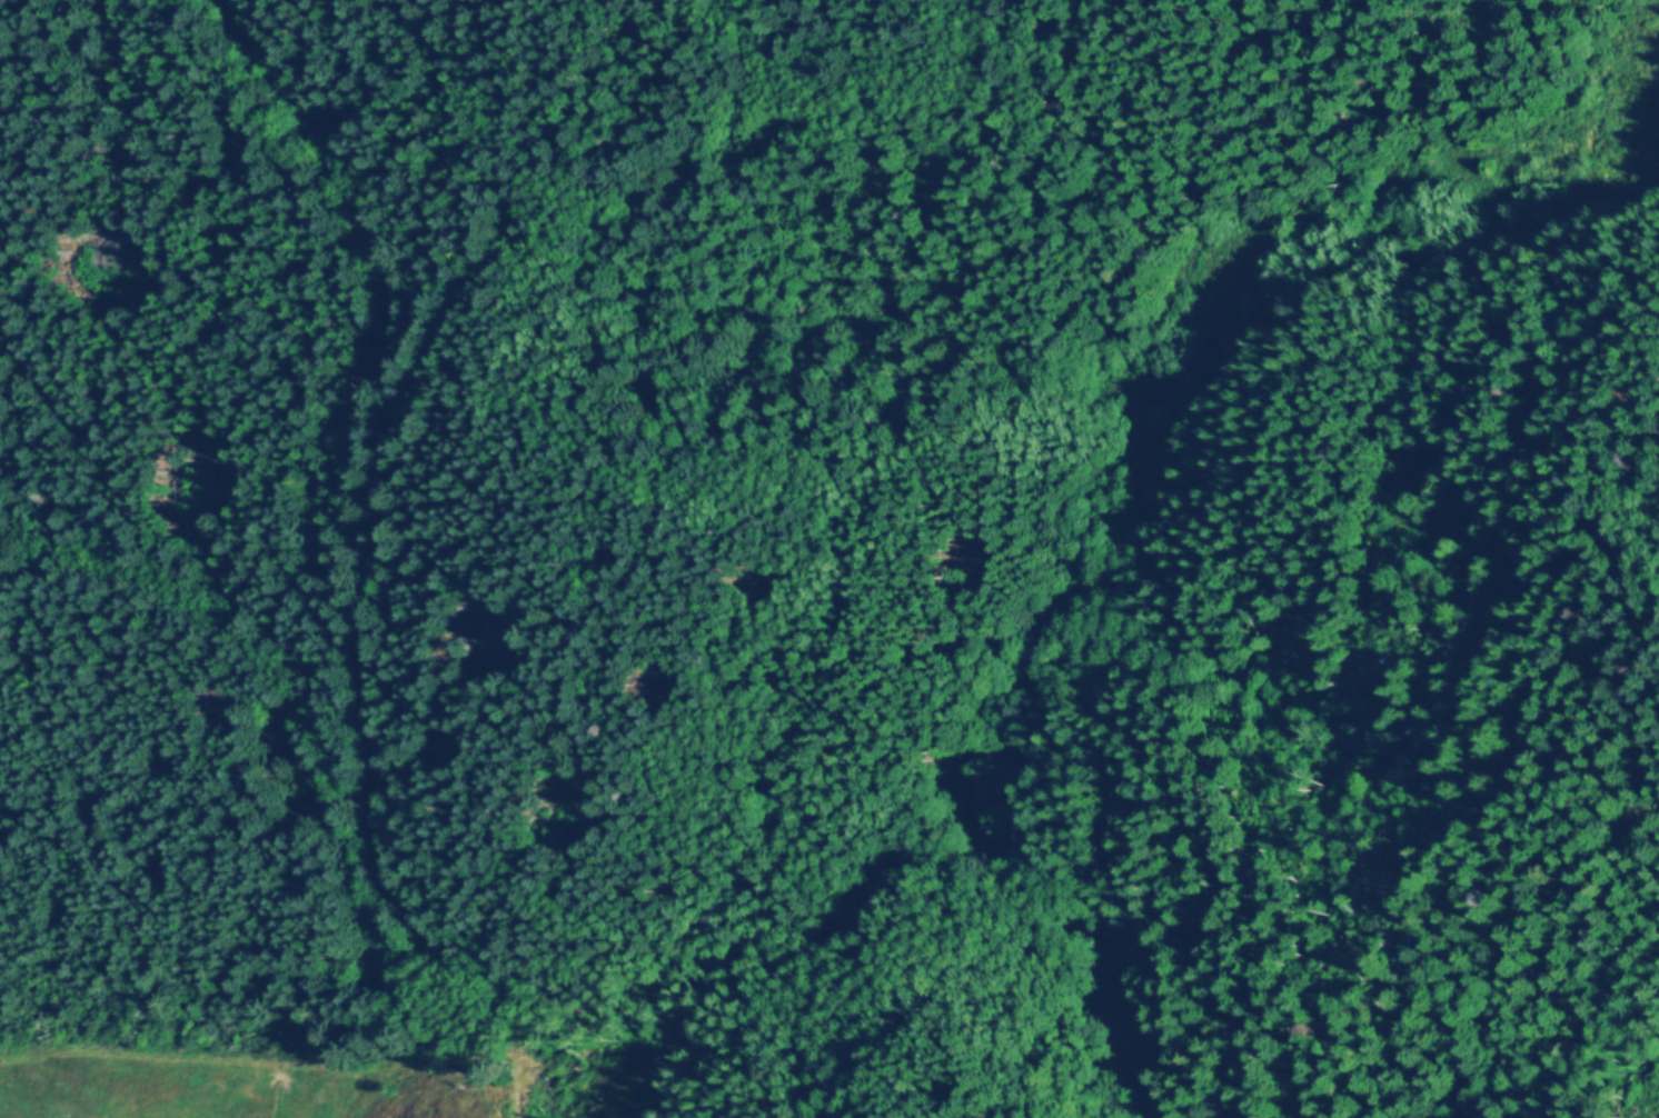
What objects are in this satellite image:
road: (345, 192)
road: (1070, 311)
park: (828, 557)
road: (247, 648)
road: (880, 827)
road: (372, 842)

